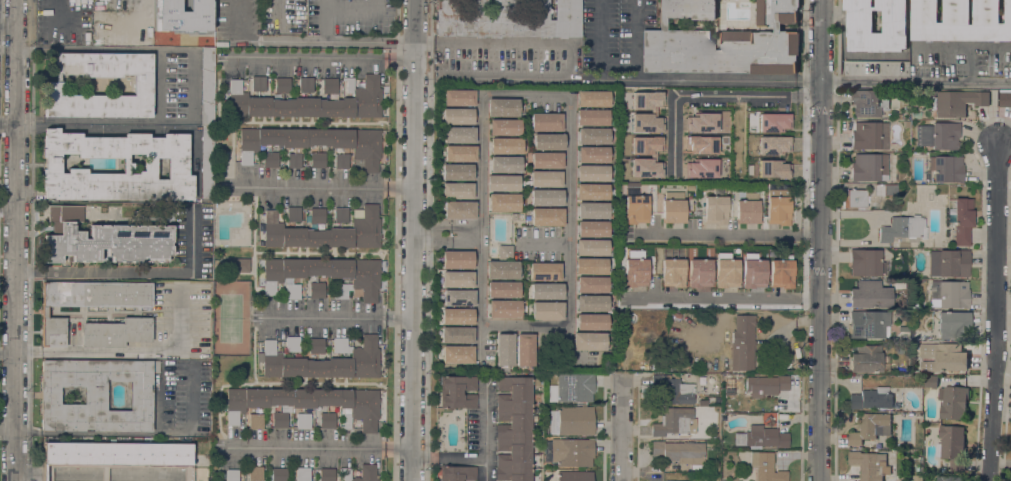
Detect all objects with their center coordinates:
road: (324, 4)
road: (354, 9)
road: (275, 12)
building: (507, 18)
building: (961, 20)
building: (859, 21)
road: (324, 24)
road: (241, 26)
road: (276, 32)
road: (339, 40)
building: (722, 41)
road: (86, 47)
road: (187, 48)
road: (572, 58)
road: (694, 80)
road: (915, 81)
building: (306, 84)
building: (207, 85)
building: (53, 88)
road: (710, 94)
building: (459, 97)
building: (593, 98)
building: (306, 99)
building: (646, 99)
building: (1005, 99)
building: (957, 102)
building: (868, 103)
building: (503, 107)
building: (741, 115)
building: (916, 115)
building: (457, 116)
building: (592, 117)
road: (86, 120)
road: (8, 122)
building: (546, 122)
building: (773, 122)
building: (645, 123)
building: (504, 127)
building: (706, 129)
building: (458, 135)
building: (869, 135)
building: (938, 135)
building: (593, 136)
building: (549, 141)
building: (698, 144)
building: (773, 144)
building: (506, 145)
building: (744, 149)
building: (355, 150)
building: (460, 153)
building: (593, 154)
building: (645, 156)
building: (270, 160)
building: (547, 160)
building: (206, 162)
building: (505, 164)
building: (177, 165)
building: (869, 167)
building: (699, 168)
building: (946, 168)
building: (457, 172)
building: (592, 173)
road: (567, 176)
building: (546, 179)
building: (503, 182)
building: (651, 186)
building: (736, 186)
road: (320, 188)
building: (457, 190)
building: (885, 190)
building: (592, 191)
building: (547, 197)
building: (855, 198)
building: (504, 202)
road: (7, 207)
building: (673, 207)
building: (747, 208)
building: (636, 209)
building: (715, 209)
building: (459, 210)
building: (592, 210)
building: (778, 210)
building: (294, 214)
building: (317, 216)
building: (513, 216)
building: (547, 217)
building: (962, 221)
road: (439, 226)
road: (872, 226)
building: (902, 228)
building: (593, 229)
building: (326, 230)
road: (725, 234)
road: (808, 234)
building: (103, 239)
road: (438, 239)
road: (15, 240)
road: (416, 240)
road: (818, 240)
road: (548, 243)
building: (591, 247)
building: (504, 252)
building: (457, 259)
building: (864, 262)
building: (948, 263)
building: (238, 265)
building: (591, 266)
building: (634, 268)
building: (502, 269)
building: (544, 271)
building: (725, 271)
building: (752, 271)
building: (780, 271)
building: (671, 272)
building: (699, 272)
road: (30, 273)
road: (144, 273)
building: (328, 275)
building: (457, 279)
building: (592, 284)
building: (316, 289)
building: (503, 289)
building: (293, 291)
building: (547, 291)
building: (869, 294)
building: (949, 294)
building: (458, 297)
road: (728, 297)
building: (86, 302)
building: (592, 302)
building: (504, 308)
building: (547, 310)
road: (995, 310)
road: (340, 315)
building: (457, 316)
building: (592, 321)
building: (867, 324)
building: (953, 325)
building: (116, 332)
building: (457, 335)
building: (589, 341)
building: (742, 343)
building: (292, 344)
road: (124, 350)
building: (505, 350)
building: (525, 350)
building: (457, 354)
building: (943, 357)
building: (868, 359)
building: (323, 360)
building: (930, 382)
building: (766, 386)
building: (572, 388)
building: (673, 389)
building: (458, 391)
building: (96, 395)
building: (871, 399)
building: (953, 402)
building: (304, 406)
building: (576, 420)
building: (674, 422)
building: (870, 427)
building: (514, 429)
road: (619, 429)
road: (6, 430)
road: (484, 430)
road: (132, 434)
building: (761, 437)
building: (952, 446)
road: (309, 448)
road: (402, 449)
building: (569, 452)
building: (680, 452)
road: (450, 456)
building: (116, 457)
building: (872, 464)
building: (765, 467)
building: (256, 473)
building: (361, 473)
building: (458, 473)
building: (279, 474)
building: (304, 474)
building: (326, 474)
building: (232, 475)
building: (575, 476)
building: (917, 478)
building: (948, 478)
building: (1010, 479)
building: (666, 480)

